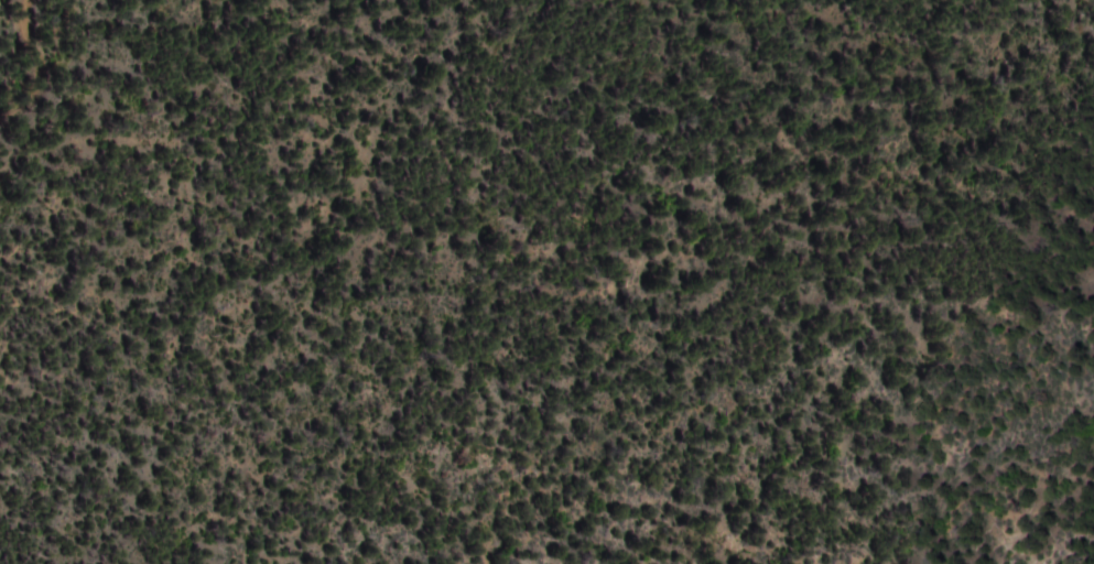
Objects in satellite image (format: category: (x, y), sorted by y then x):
road: (36, 62)
road: (285, 91)

